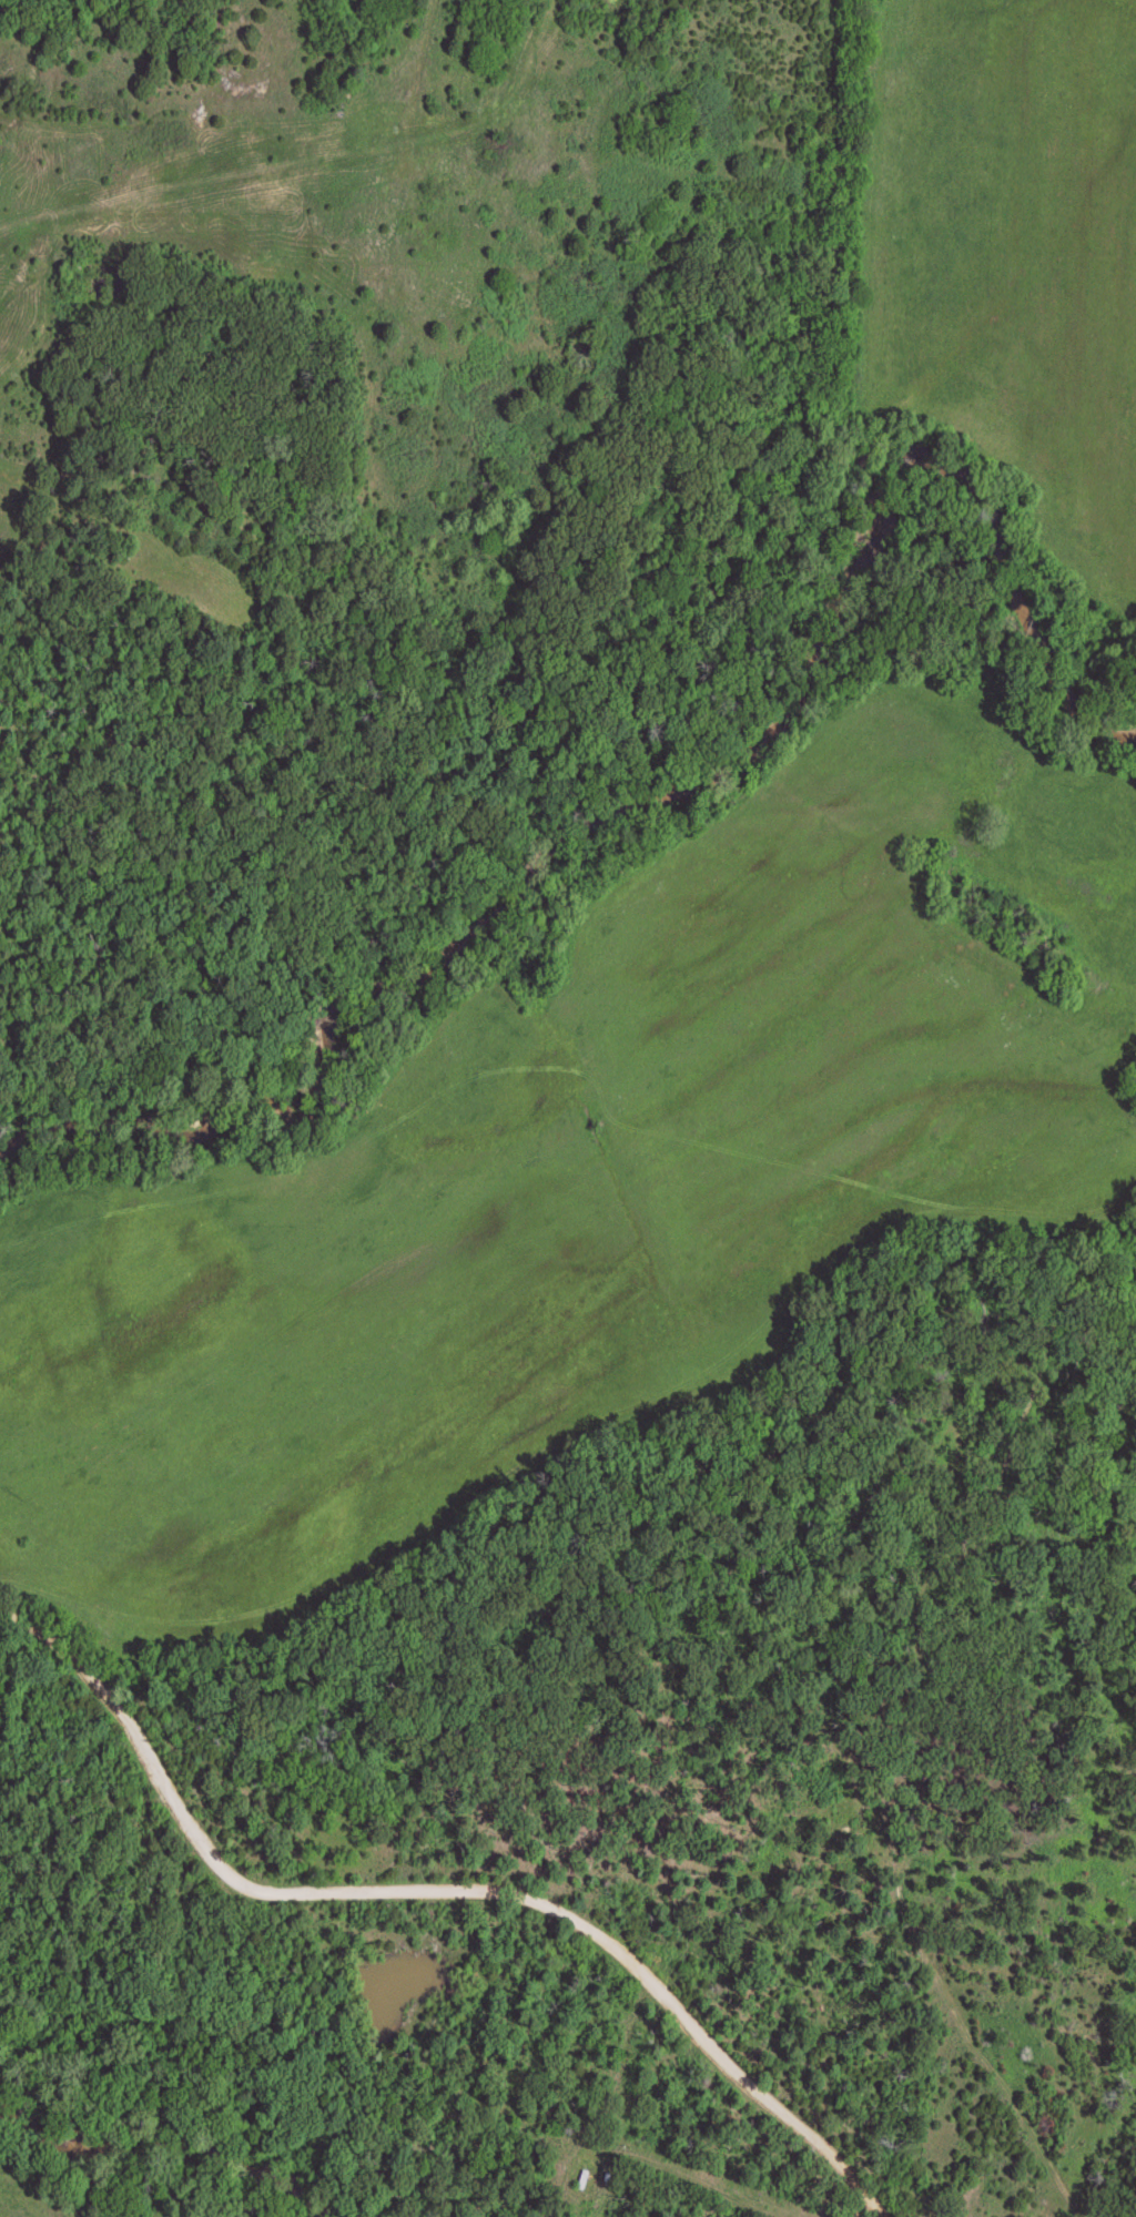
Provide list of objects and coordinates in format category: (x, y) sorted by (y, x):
building: (232, 98)
road: (641, 1619)
road: (670, 2001)
road: (619, 2060)

